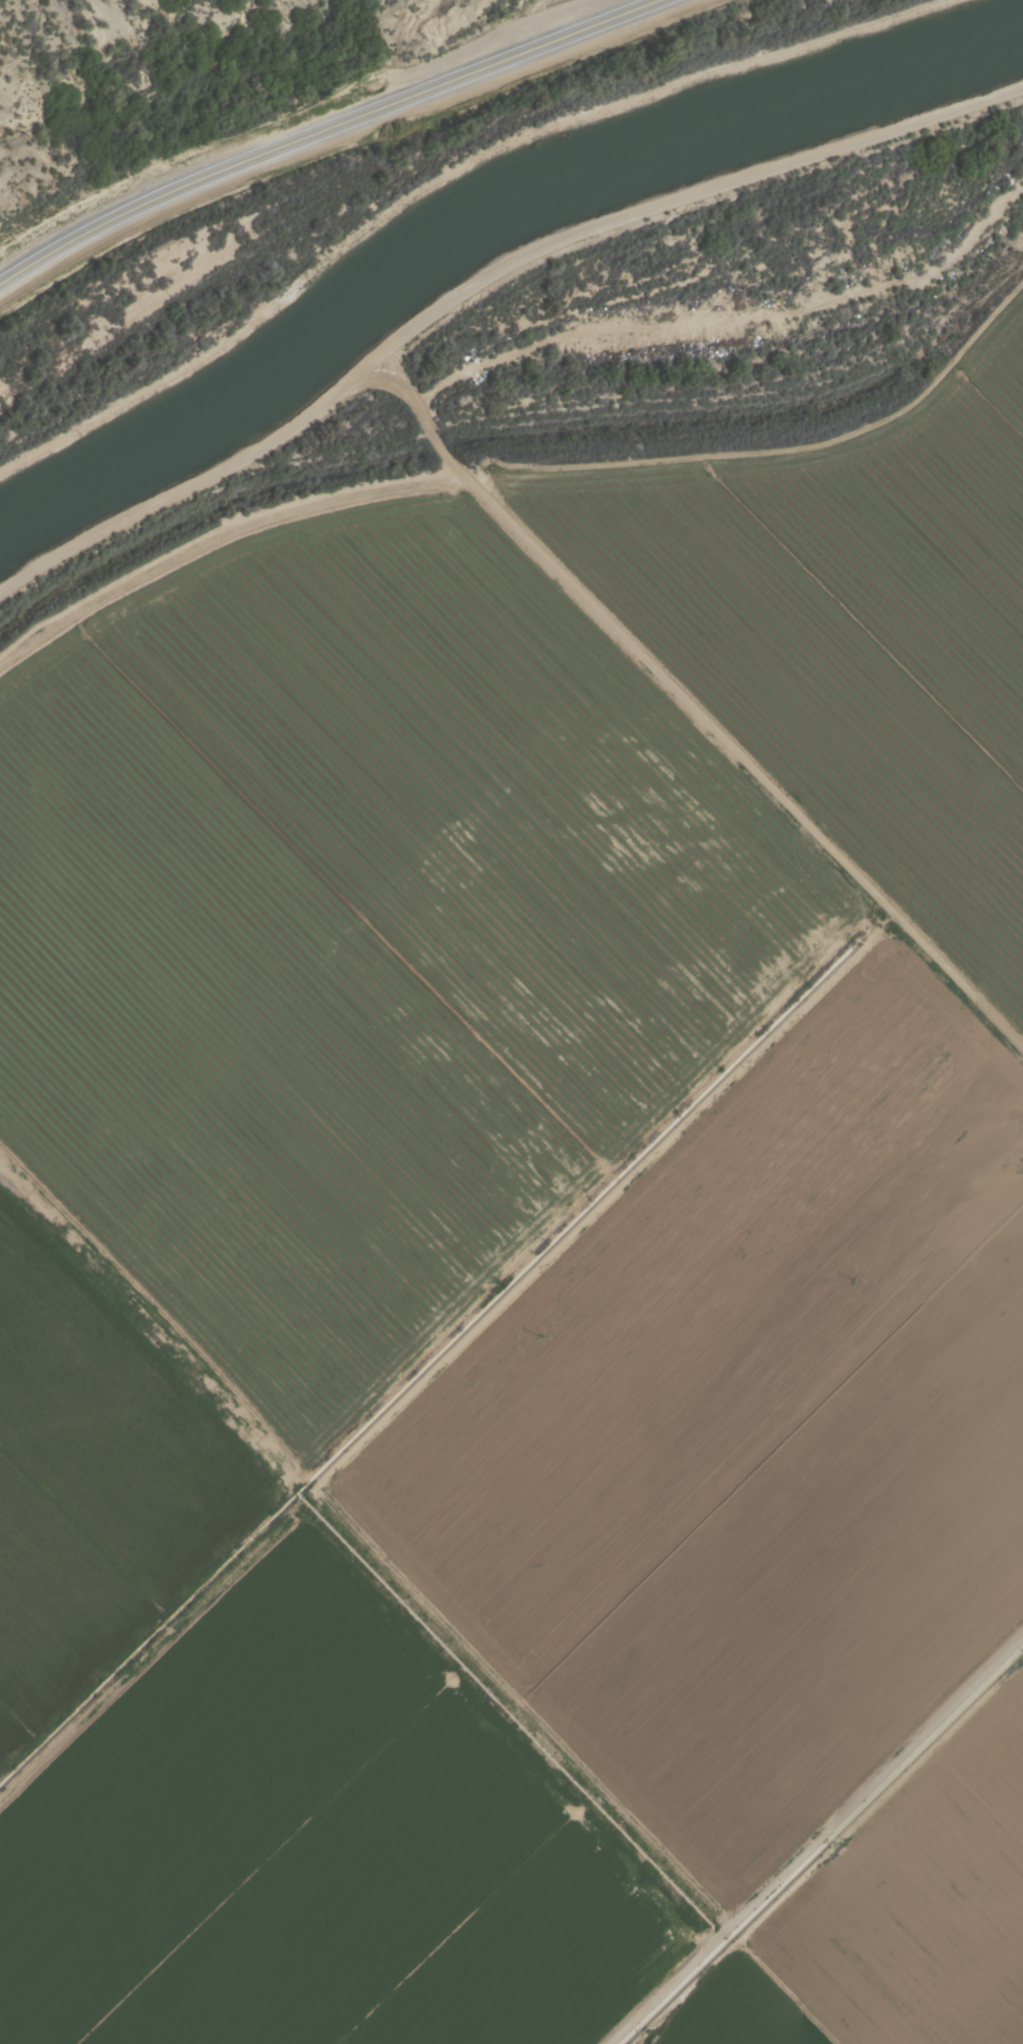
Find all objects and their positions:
road: (330, 133)
crop: (858, 630)

